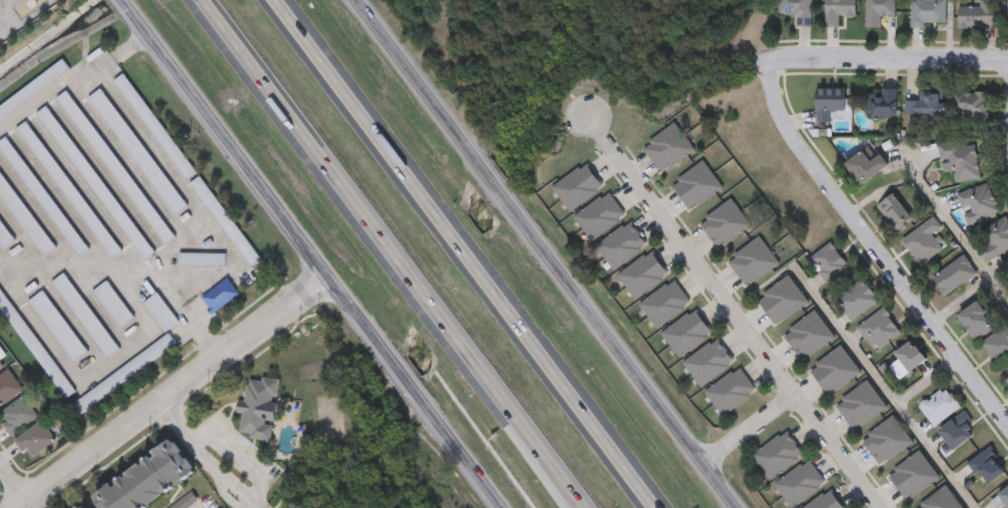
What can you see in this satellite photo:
building: (797, 10)
building: (838, 11)
building: (878, 12)
building: (928, 13)
building: (977, 14)
building: (1007, 14)
road: (901, 56)
building: (32, 88)
building: (829, 104)
building: (881, 104)
building: (926, 104)
building: (974, 108)
building: (152, 124)
building: (668, 149)
building: (135, 150)
building: (961, 161)
building: (866, 167)
building: (94, 182)
building: (696, 186)
building: (67, 188)
building: (578, 188)
building: (41, 196)
building: (978, 205)
building: (895, 213)
building: (600, 217)
building: (24, 218)
building: (225, 221)
building: (725, 224)
road: (966, 230)
building: (4, 237)
building: (998, 238)
building: (924, 241)
road: (873, 244)
building: (621, 246)
road: (549, 252)
road: (310, 253)
road: (466, 253)
road: (397, 254)
building: (201, 259)
building: (753, 262)
building: (828, 263)
building: (643, 275)
building: (954, 277)
building: (219, 295)
road: (969, 297)
building: (858, 300)
building: (782, 301)
building: (112, 303)
building: (666, 304)
building: (160, 311)
road: (735, 311)
building: (84, 315)
building: (977, 322)
building: (57, 326)
building: (880, 331)
building: (687, 334)
building: (809, 336)
building: (34, 346)
building: (998, 347)
building: (908, 360)
building: (709, 363)
building: (0, 364)
building: (835, 371)
building: (121, 374)
road: (926, 375)
building: (1007, 381)
road: (172, 392)
road: (898, 392)
building: (731, 393)
building: (861, 407)
building: (939, 407)
building: (259, 408)
building: (16, 415)
road: (750, 429)
building: (959, 432)
building: (34, 439)
building: (887, 441)
building: (778, 456)
road: (206, 459)
building: (988, 467)
building: (913, 476)
building: (146, 480)
road: (13, 483)
building: (800, 484)
building: (941, 500)
building: (1001, 500)
building: (825, 502)
road: (29, 504)
building: (83, 507)

